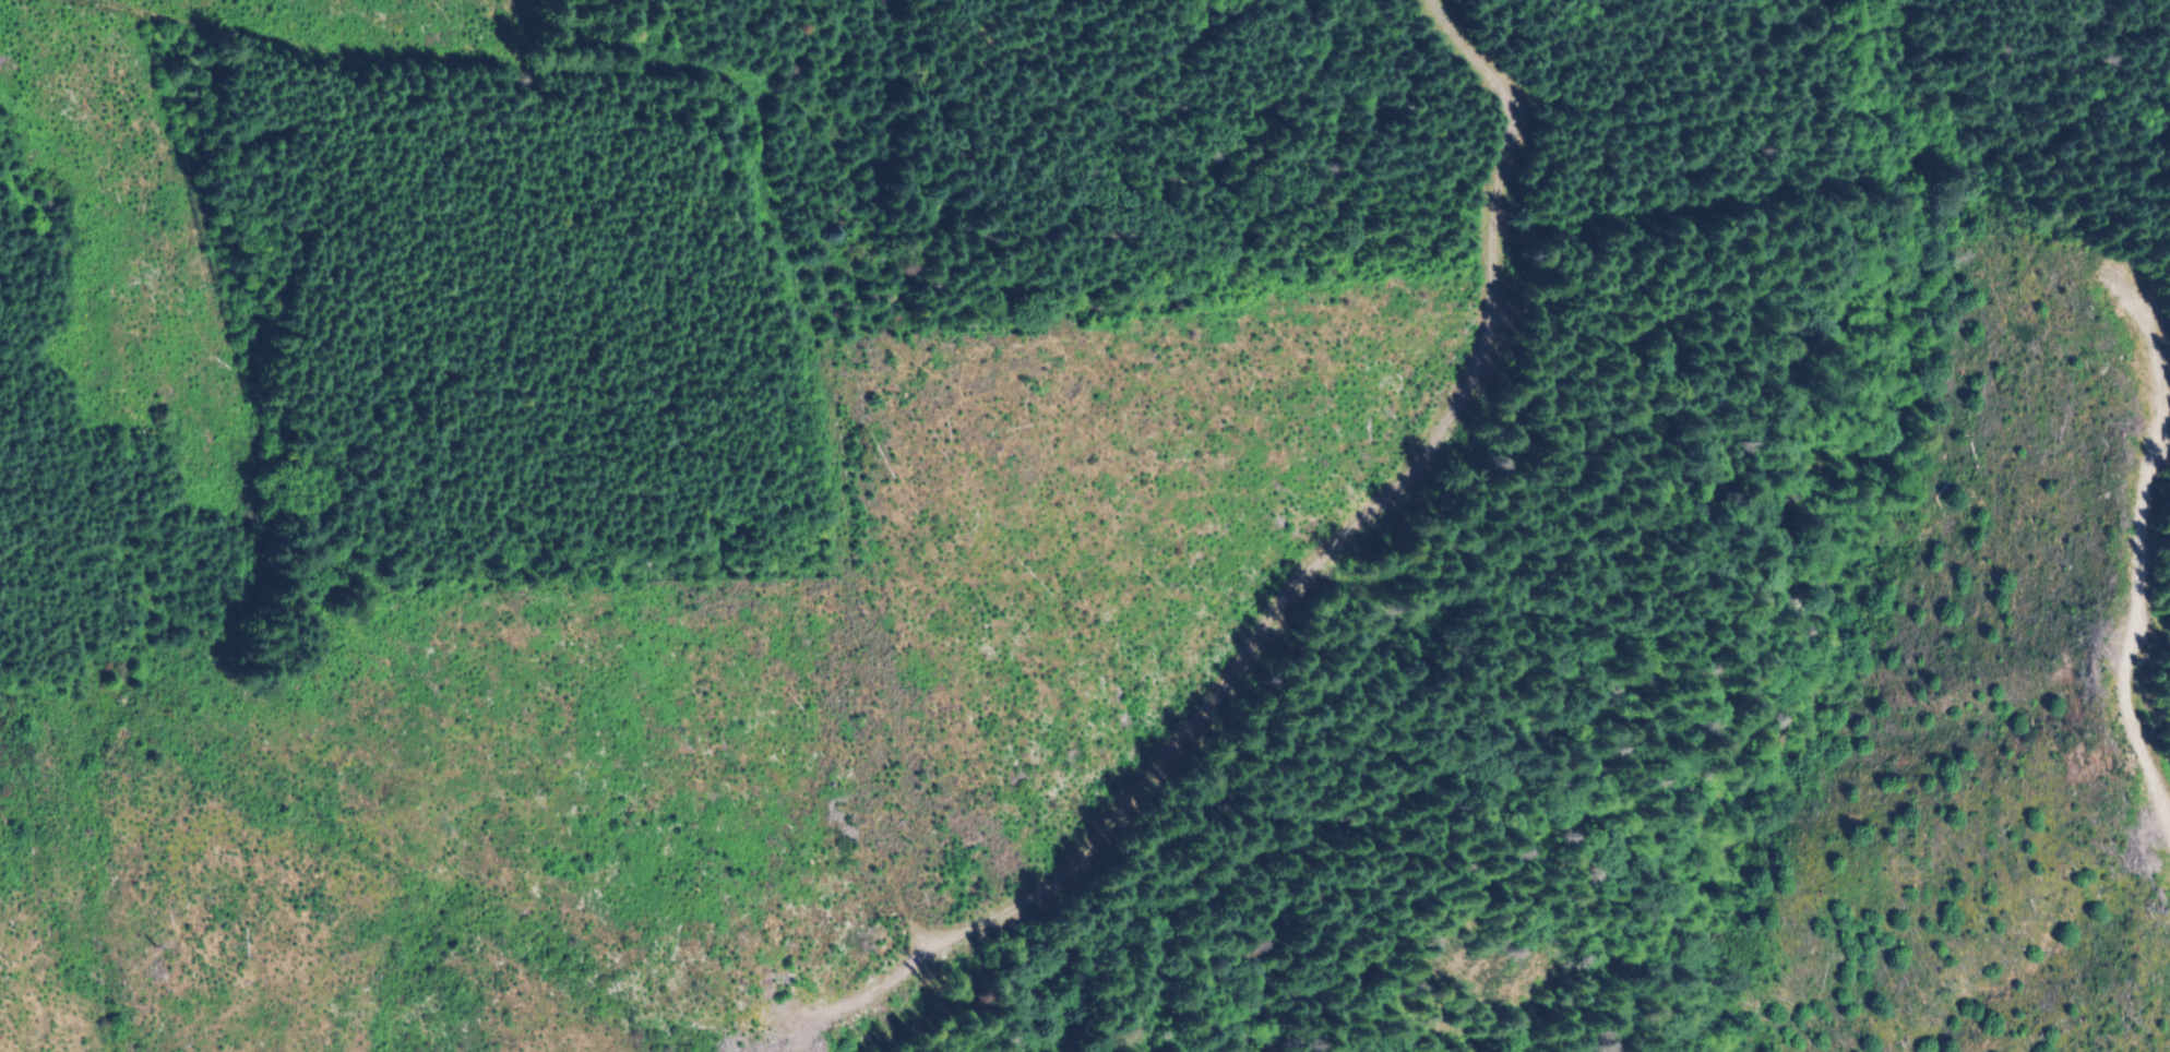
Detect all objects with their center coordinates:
road: (512, 62)
road: (1278, 608)

